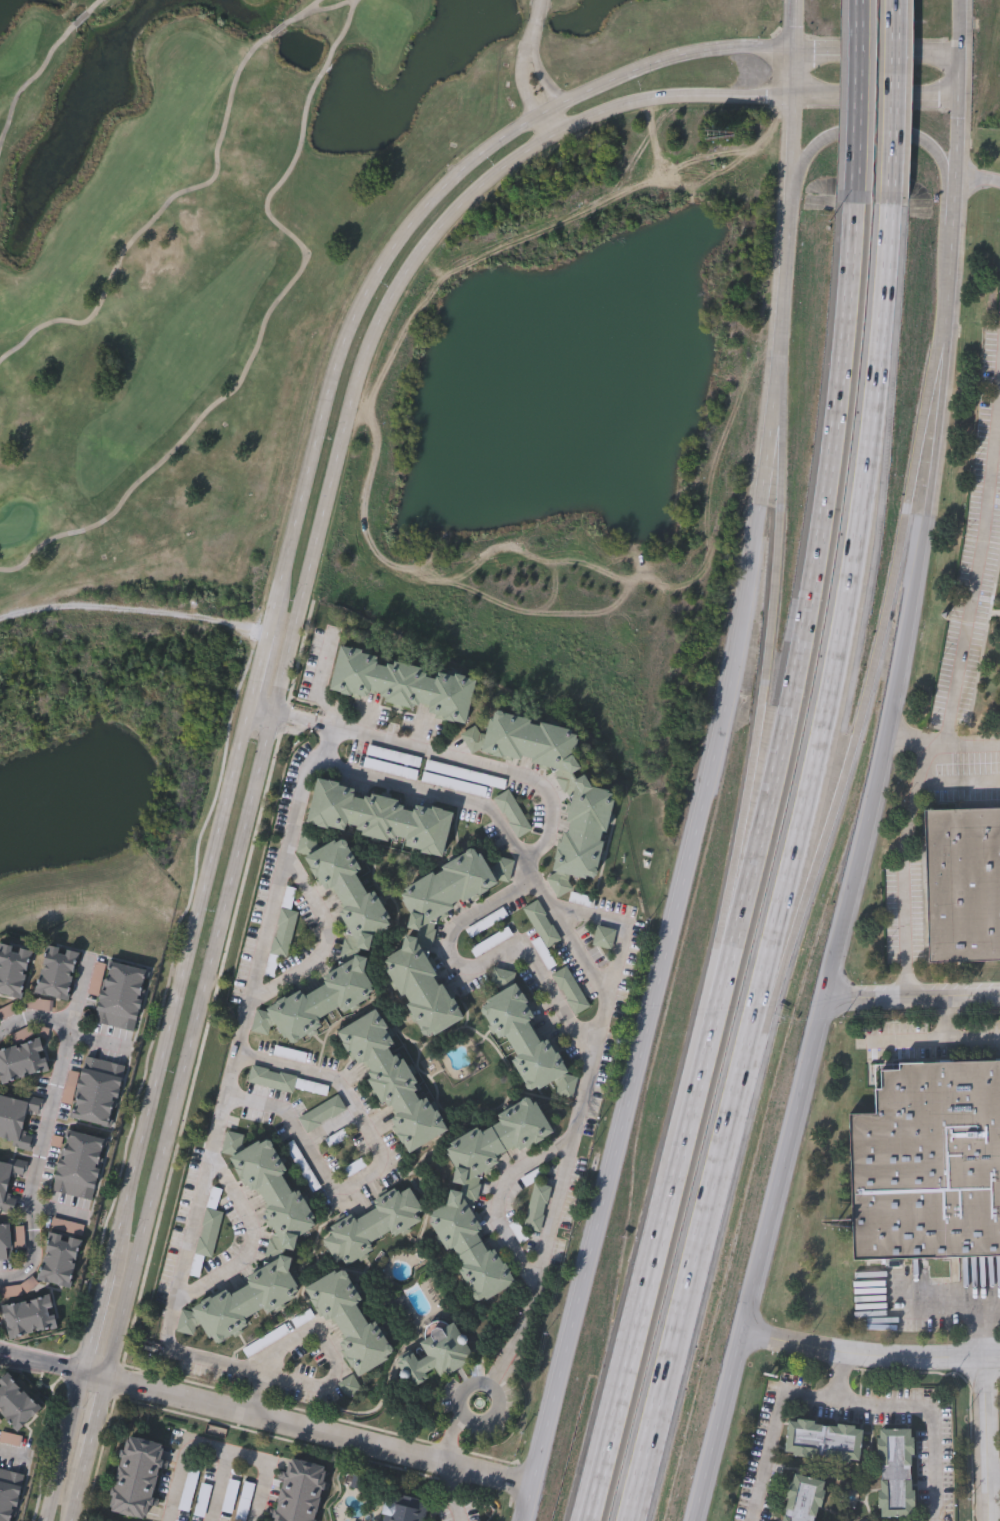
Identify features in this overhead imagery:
road: (96, 6)
road: (312, 7)
road: (330, 9)
road: (82, 21)
road: (796, 23)
road: (959, 25)
road: (877, 48)
road: (530, 58)
road: (795, 72)
road: (29, 84)
road: (857, 95)
road: (894, 96)
road: (876, 98)
road: (554, 124)
road: (867, 139)
road: (978, 181)
road: (954, 197)
road: (169, 202)
road: (279, 225)
road: (410, 225)
park: (224, 243)
road: (931, 388)
building: (988, 430)
road: (776, 465)
road: (765, 467)
road: (976, 562)
road: (915, 580)
road: (811, 586)
road: (297, 602)
road: (845, 607)
road: (132, 609)
road: (254, 671)
building: (401, 684)
road: (872, 685)
road: (318, 687)
road: (762, 695)
road: (257, 712)
road: (289, 718)
road: (322, 725)
road: (942, 739)
building: (530, 742)
road: (959, 783)
road: (437, 792)
building: (513, 814)
building: (378, 817)
building: (585, 832)
road: (903, 866)
building: (450, 886)
building: (348, 892)
building: (962, 893)
building: (285, 926)
road: (623, 927)
road: (728, 929)
building: (543, 933)
building: (605, 939)
road: (326, 944)
road: (488, 957)
building: (13, 969)
building: (271, 970)
building: (56, 971)
road: (774, 972)
road: (593, 973)
building: (422, 990)
road: (176, 991)
building: (572, 992)
building: (116, 993)
building: (322, 999)
road: (912, 999)
road: (34, 1017)
road: (955, 1034)
building: (522, 1037)
road: (99, 1043)
building: (21, 1060)
road: (229, 1075)
building: (392, 1082)
building: (285, 1083)
building: (96, 1090)
building: (322, 1115)
building: (16, 1120)
road: (49, 1124)
building: (337, 1140)
building: (497, 1140)
building: (78, 1164)
road: (382, 1165)
building: (303, 1168)
road: (781, 1168)
building: (354, 1169)
building: (926, 1170)
road: (609, 1175)
building: (9, 1181)
building: (275, 1190)
road: (498, 1193)
building: (538, 1209)
building: (375, 1221)
building: (207, 1240)
road: (254, 1241)
building: (5, 1242)
road: (657, 1248)
building: (470, 1249)
building: (58, 1258)
road: (690, 1267)
building: (245, 1301)
building: (28, 1316)
building: (303, 1320)
building: (350, 1321)
road: (976, 1321)
road: (95, 1322)
road: (298, 1336)
road: (869, 1352)
building: (436, 1356)
road: (41, 1363)
road: (94, 1374)
road: (843, 1376)
road: (259, 1379)
road: (305, 1381)
building: (351, 1389)
road: (253, 1400)
building: (15, 1403)
road: (495, 1403)
road: (850, 1404)
road: (96, 1419)
road: (320, 1430)
road: (449, 1435)
road: (989, 1439)
building: (823, 1441)
road: (65, 1446)
road: (18, 1449)
road: (218, 1452)
building: (896, 1474)
building: (135, 1479)
road: (218, 1487)
road: (78, 1490)
building: (298, 1492)
road: (451, 1492)
building: (8, 1494)
building: (803, 1500)
building: (403, 1510)

